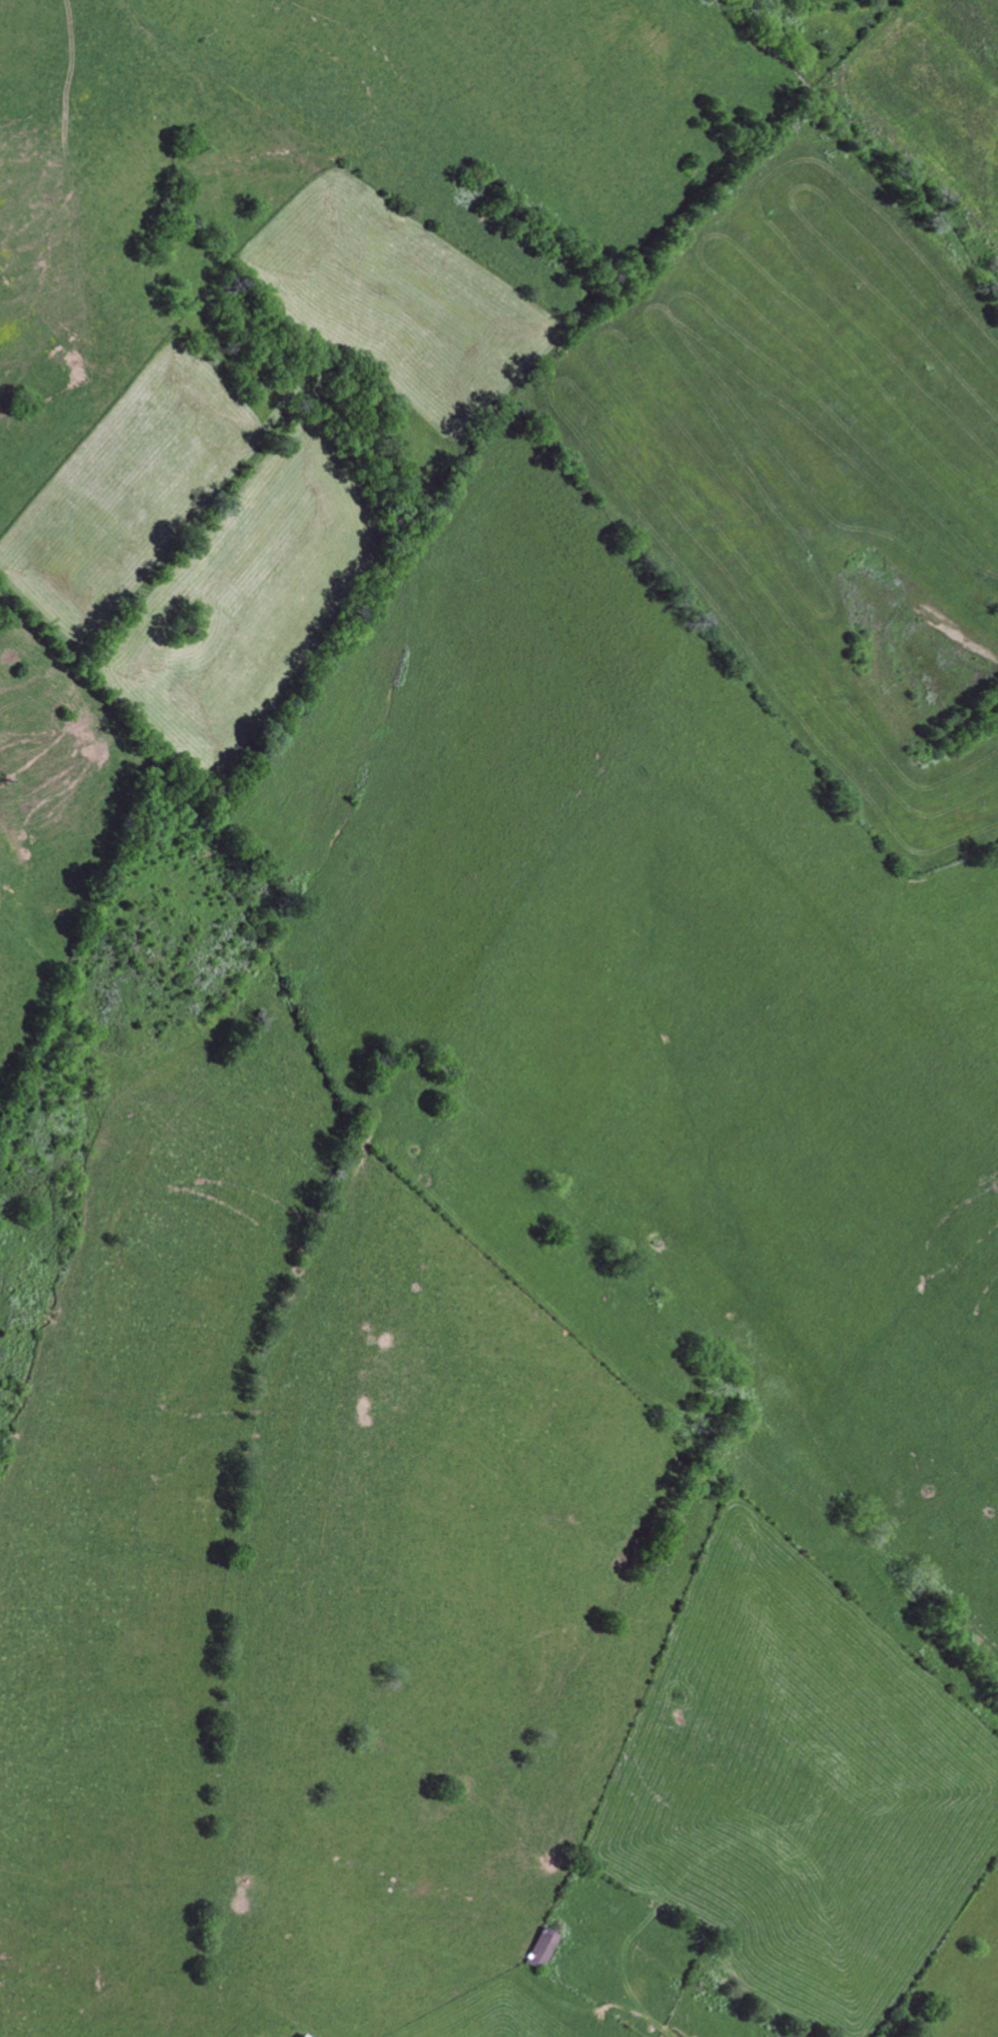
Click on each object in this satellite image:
building: (544, 1949)
building: (305, 2036)

